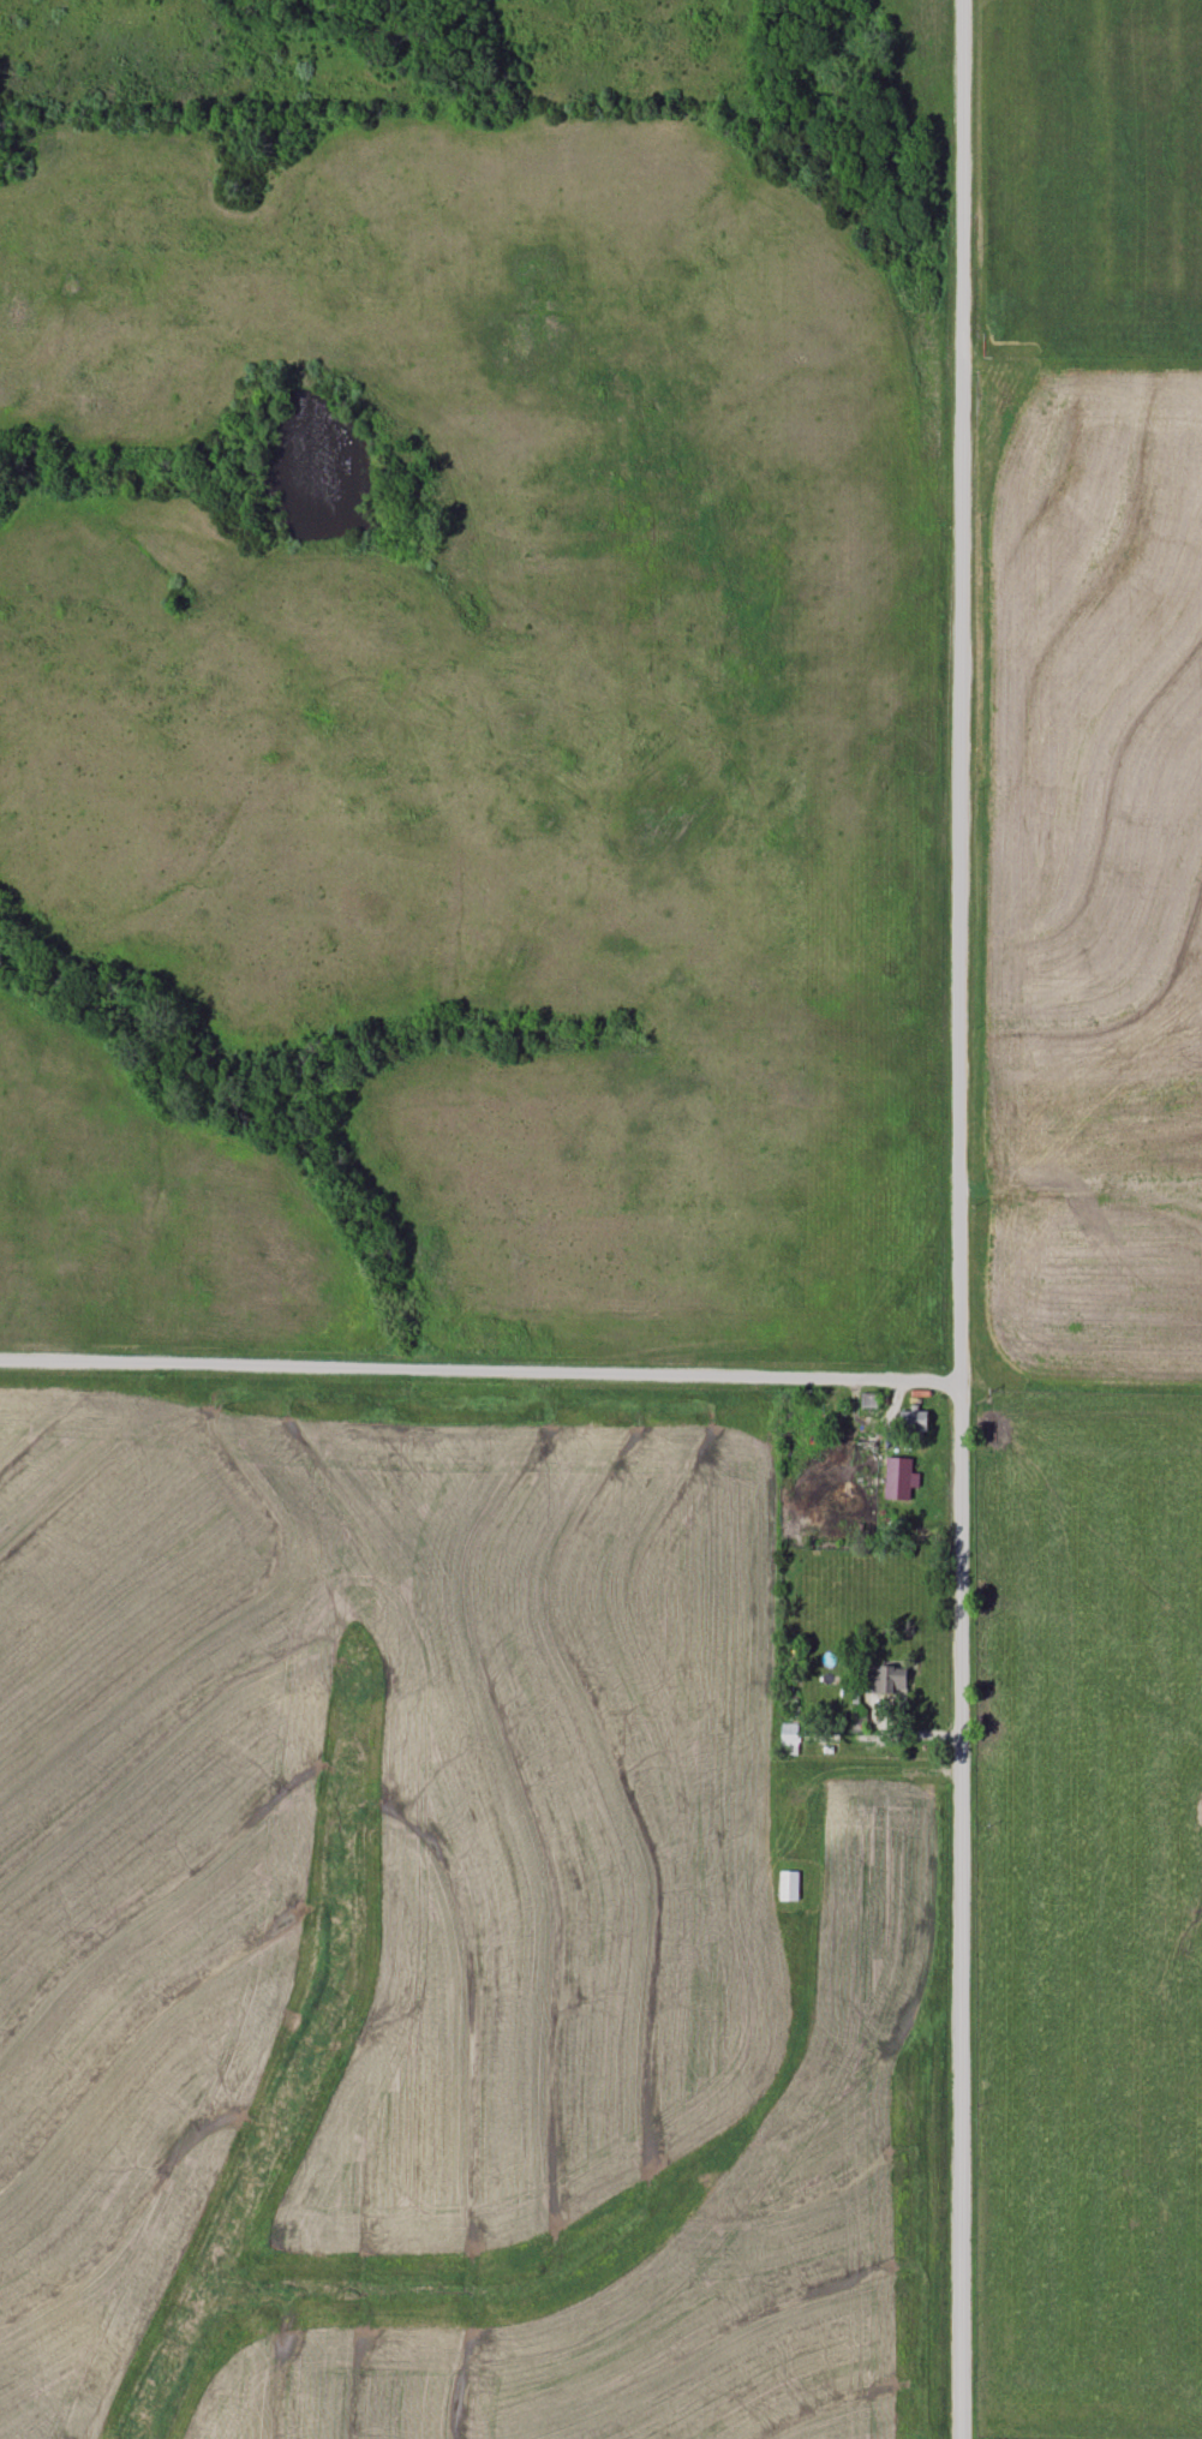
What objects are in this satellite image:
road: (963, 1219)
road: (482, 1369)
building: (915, 1423)
building: (890, 1680)
building: (789, 1739)
road: (895, 1759)
building: (789, 1887)

